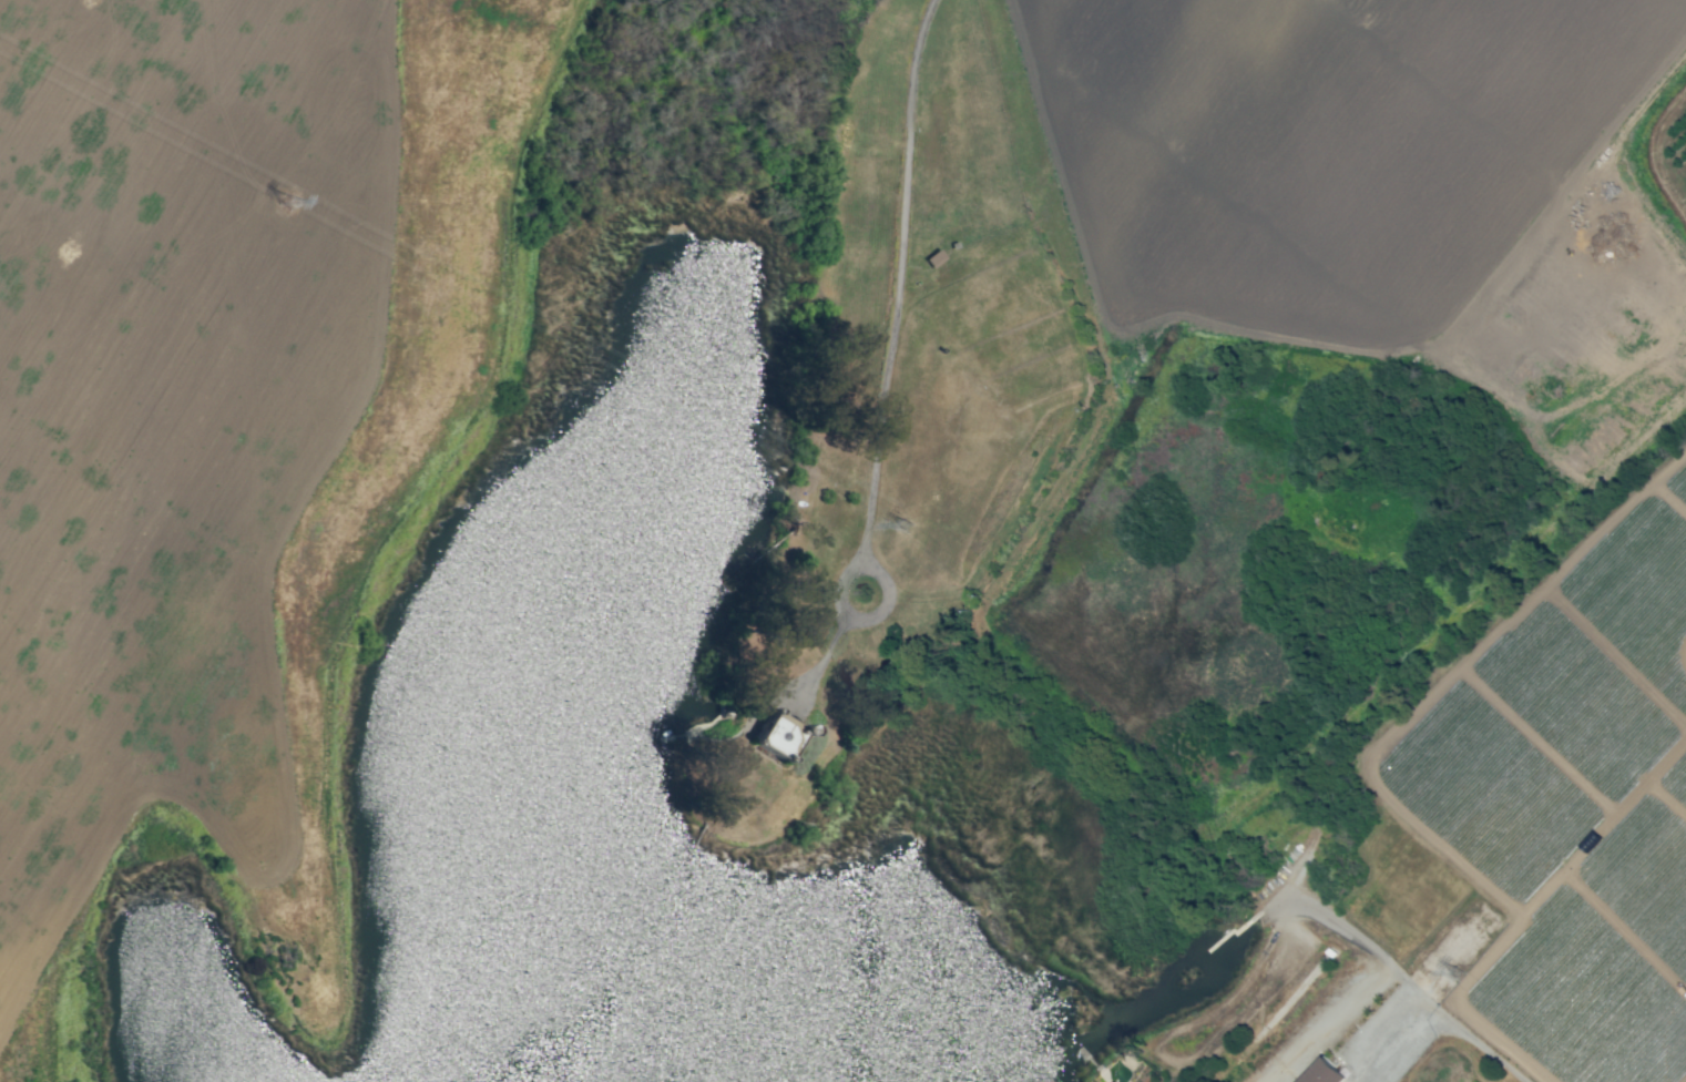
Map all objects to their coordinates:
power tower: (289, 201)
road: (887, 356)
crop: (852, 461)
power tower: (911, 529)
road: (762, 696)
pier: (692, 731)
building: (777, 736)
crop: (1336, 956)
power tower: (1461, 973)
road: (1441, 1012)
building: (1322, 1072)

